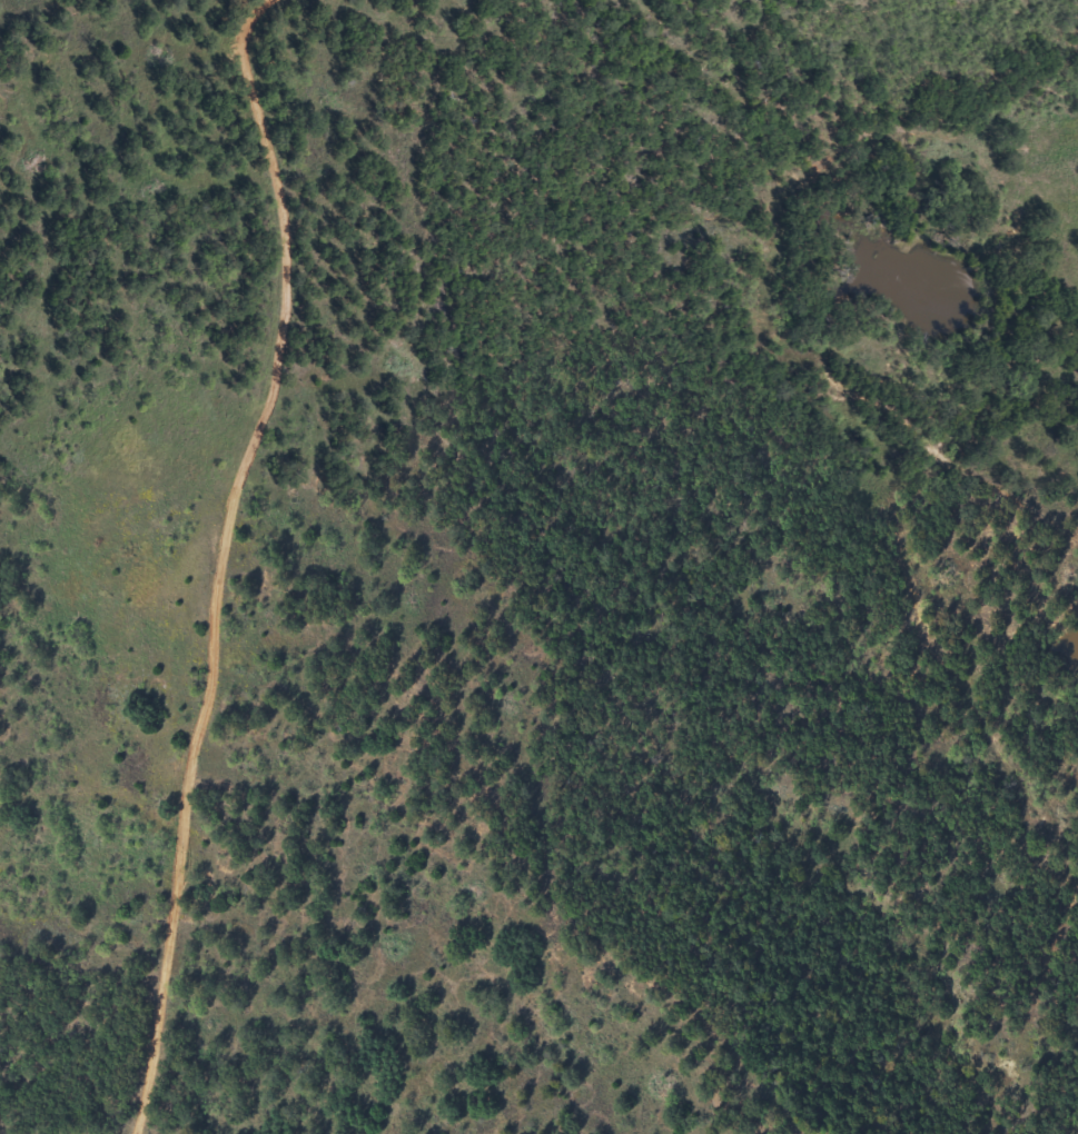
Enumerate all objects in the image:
road: (222, 561)

